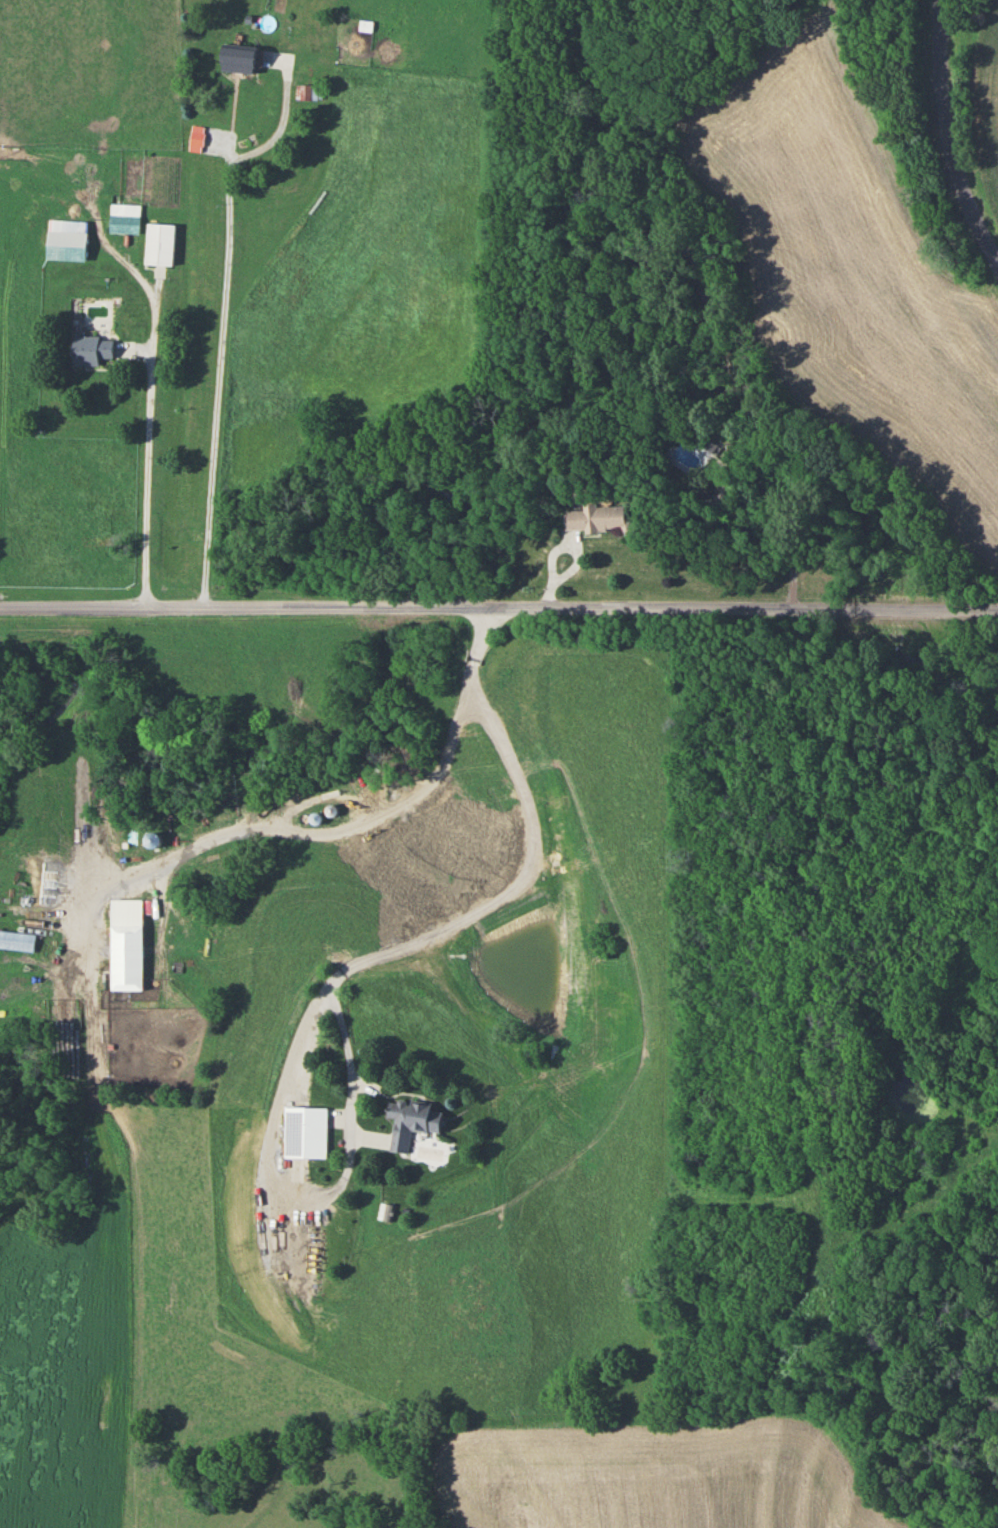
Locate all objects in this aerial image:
building: (364, 25)
building: (238, 58)
building: (309, 91)
crop: (986, 110)
road: (947, 134)
building: (195, 138)
building: (124, 218)
building: (66, 239)
building: (160, 244)
crop: (846, 262)
road: (224, 342)
building: (92, 348)
road: (151, 475)
building: (597, 517)
road: (499, 604)
road: (339, 822)
road: (514, 885)
building: (17, 940)
building: (127, 943)
building: (409, 1120)
building: (307, 1130)
road: (282, 1166)
crop: (60, 1368)
crop: (657, 1474)

